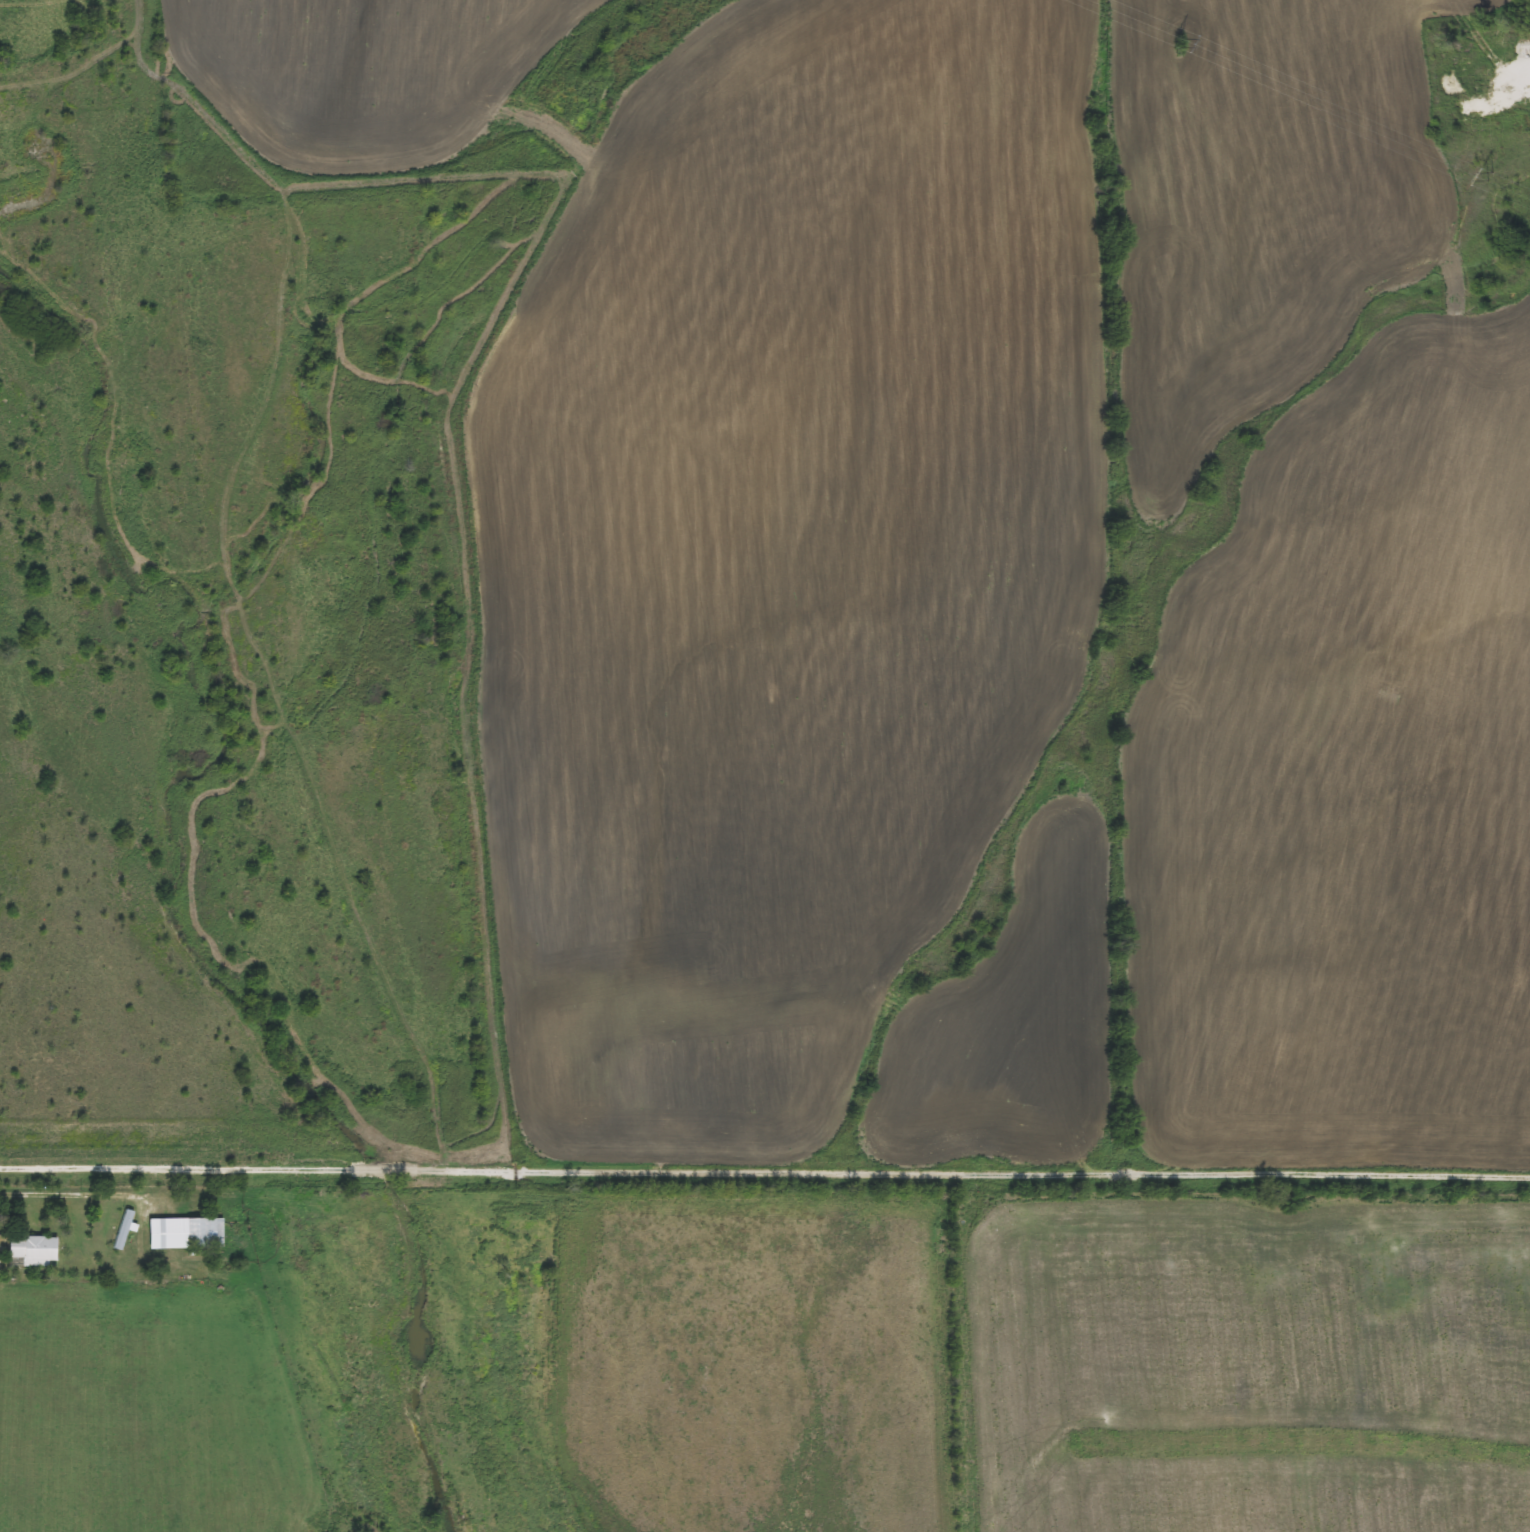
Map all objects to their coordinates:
road: (77, 1167)
road: (843, 1169)
road: (74, 1193)
building: (125, 1229)
building: (189, 1233)
building: (37, 1251)

